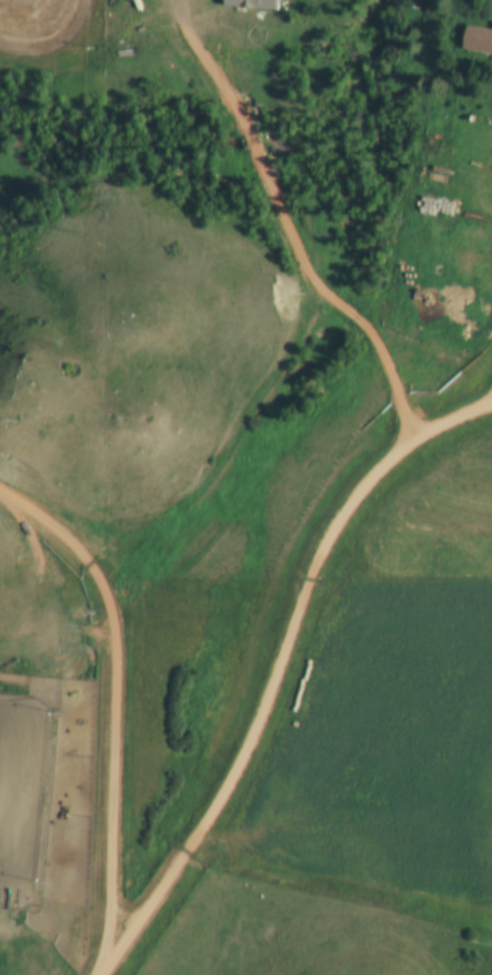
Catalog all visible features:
building: (478, 39)
road: (284, 671)
road: (124, 694)

